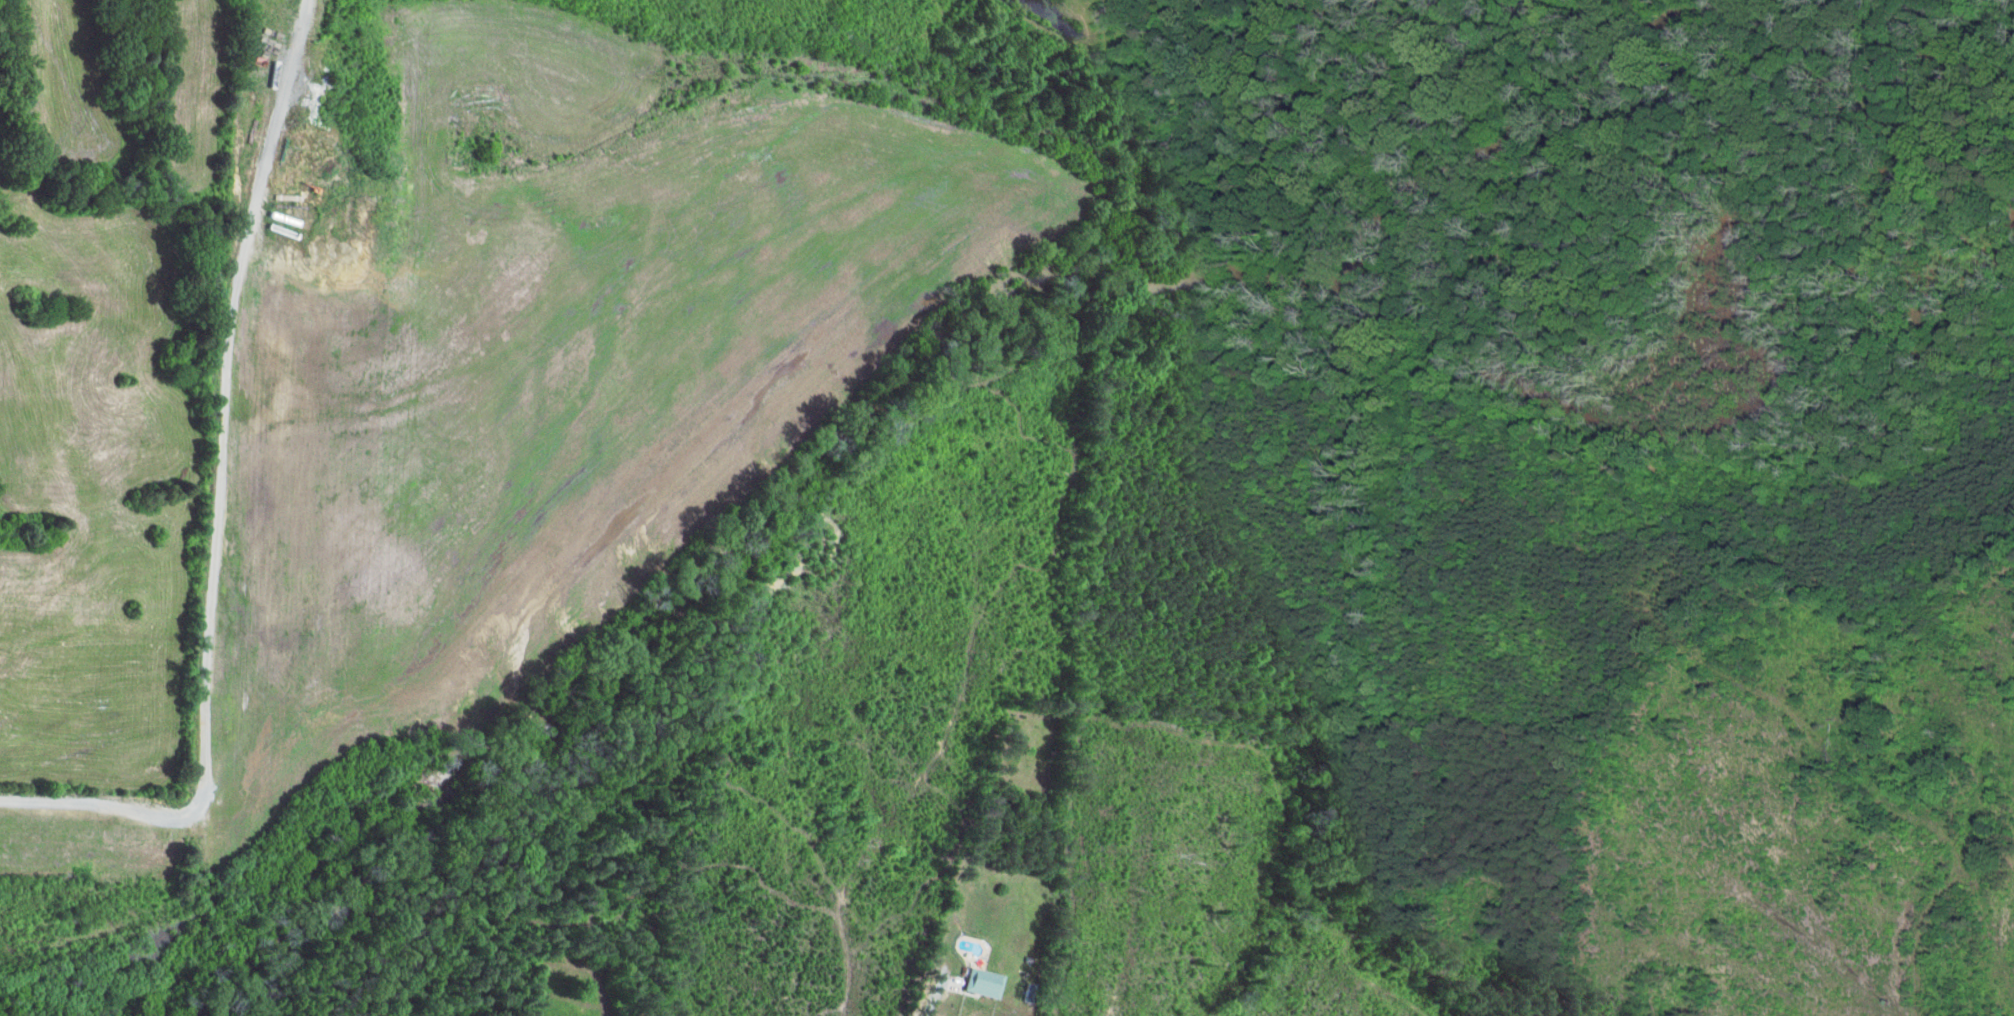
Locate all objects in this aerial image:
road: (219, 502)
building: (980, 982)
road: (930, 993)

